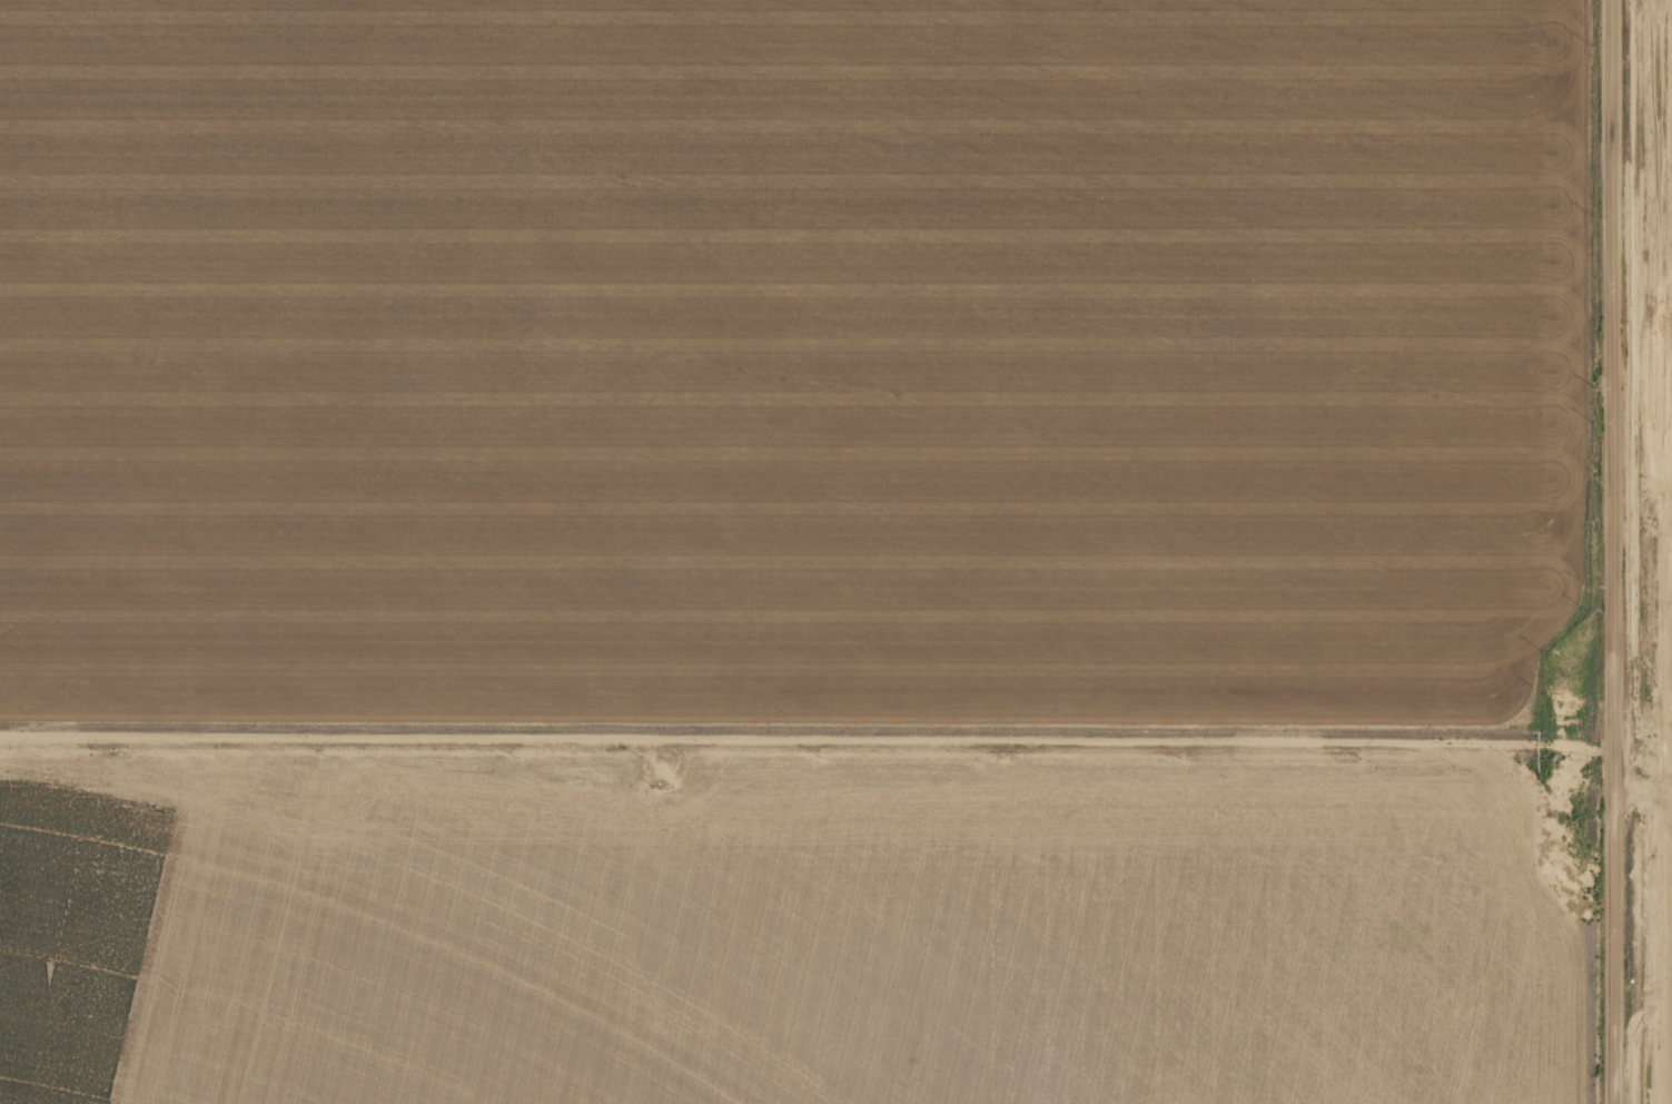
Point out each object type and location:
road: (1613, 552)
road: (807, 766)

